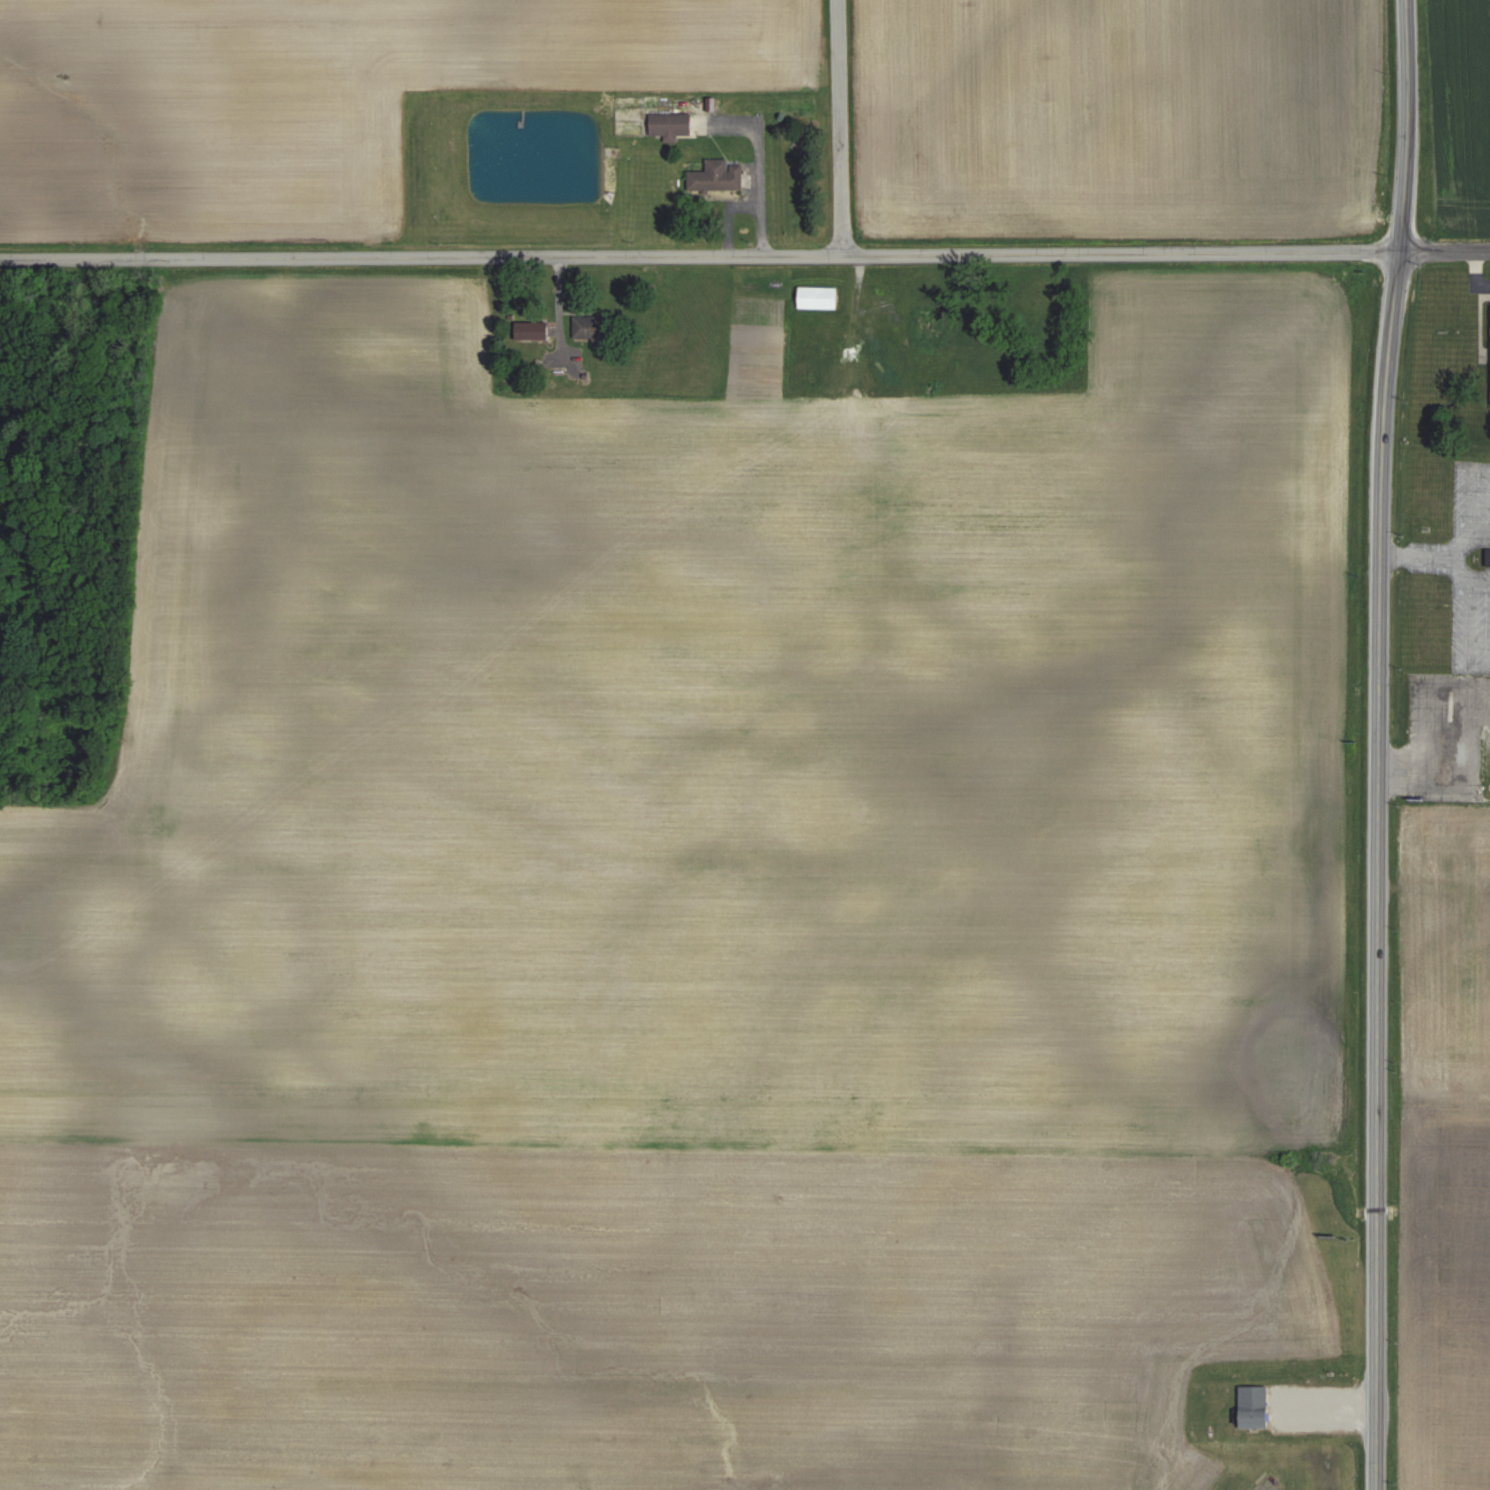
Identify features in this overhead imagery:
building: (672, 124)
road: (832, 130)
road: (761, 165)
building: (718, 176)
road: (728, 220)
road: (1442, 253)
road: (697, 263)
building: (819, 297)
building: (590, 326)
road: (1462, 543)
building: (1489, 557)
road: (1465, 620)
road: (1371, 744)
building: (1256, 1406)

